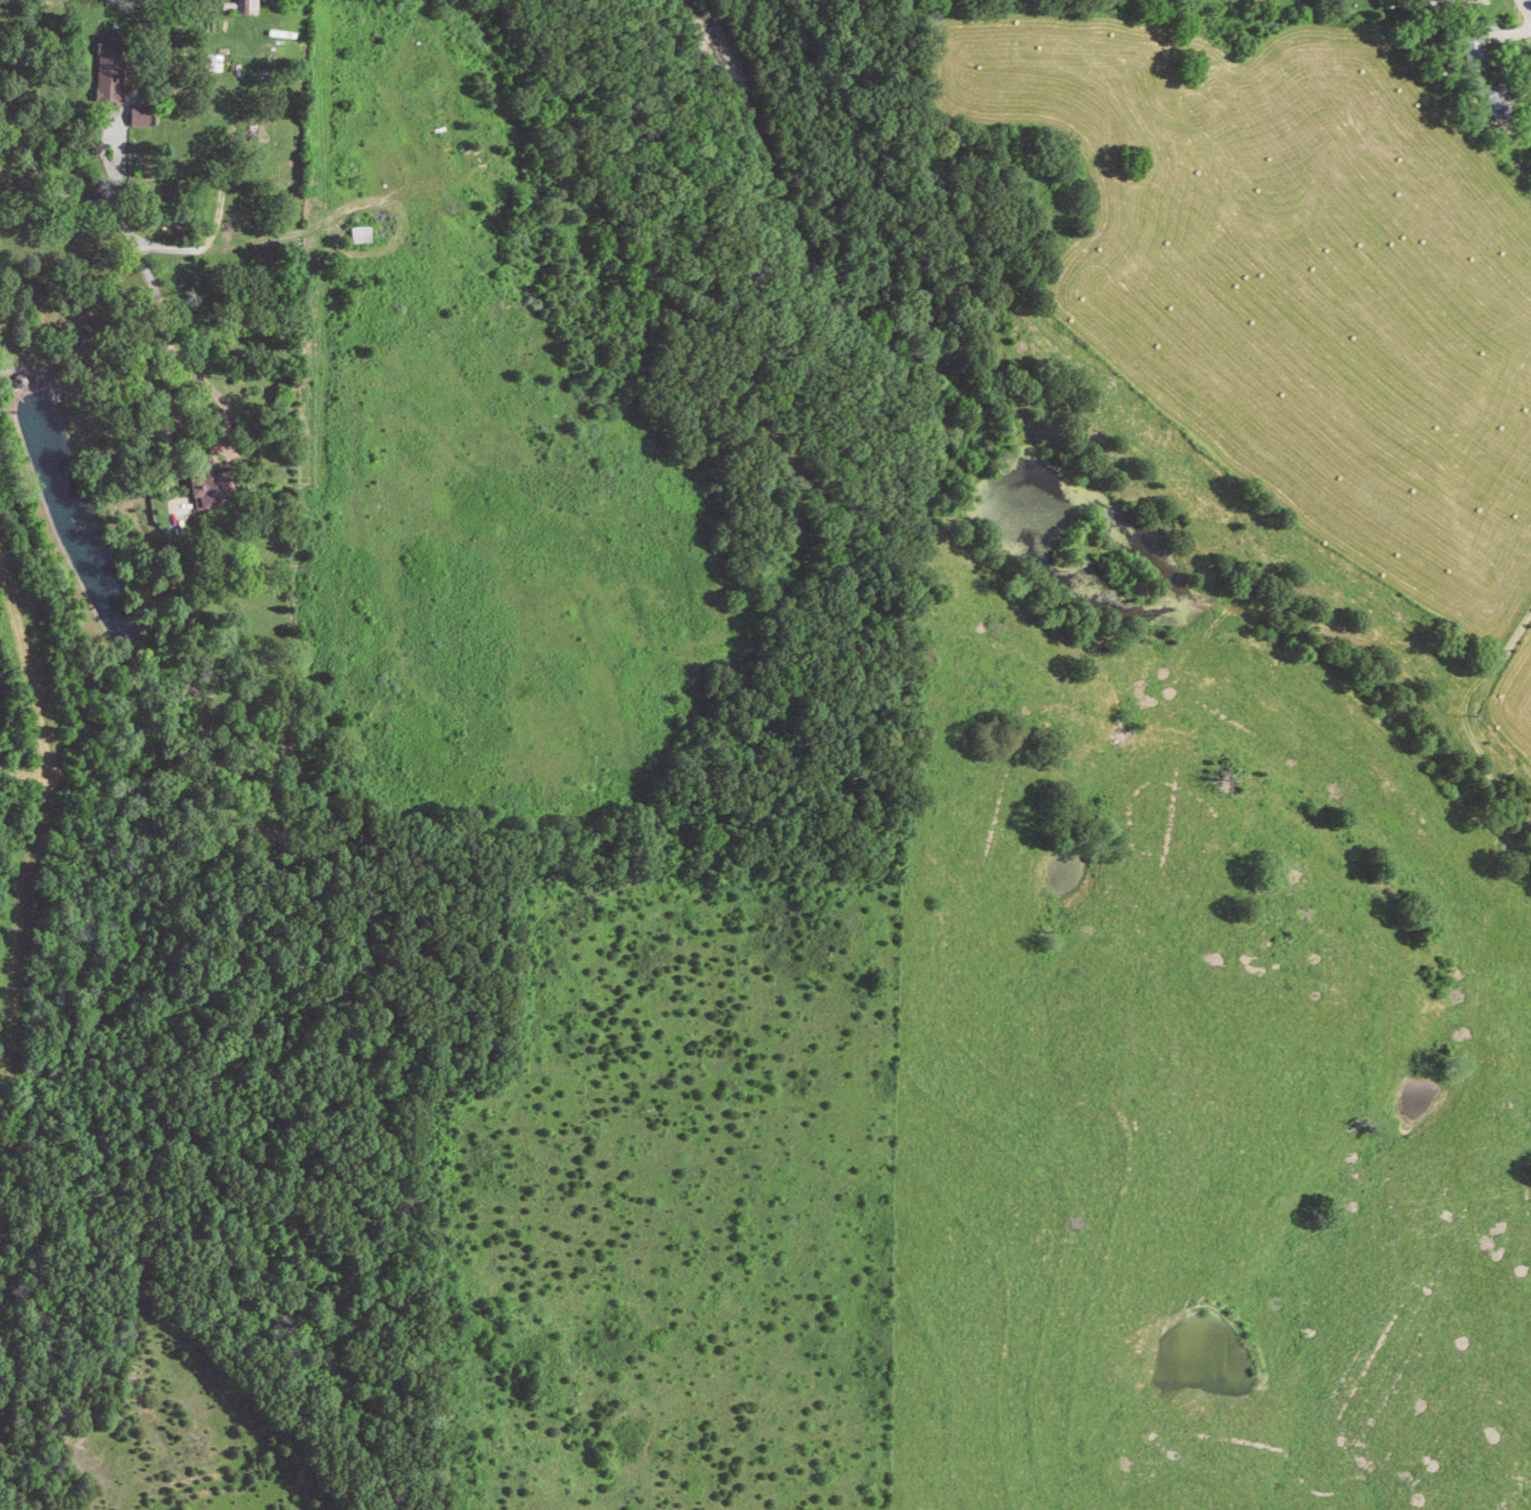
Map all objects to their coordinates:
building: (251, 6)
road: (1526, 7)
building: (1478, 51)
building: (113, 67)
building: (1502, 102)
building: (144, 114)
building: (365, 233)
building: (209, 489)

